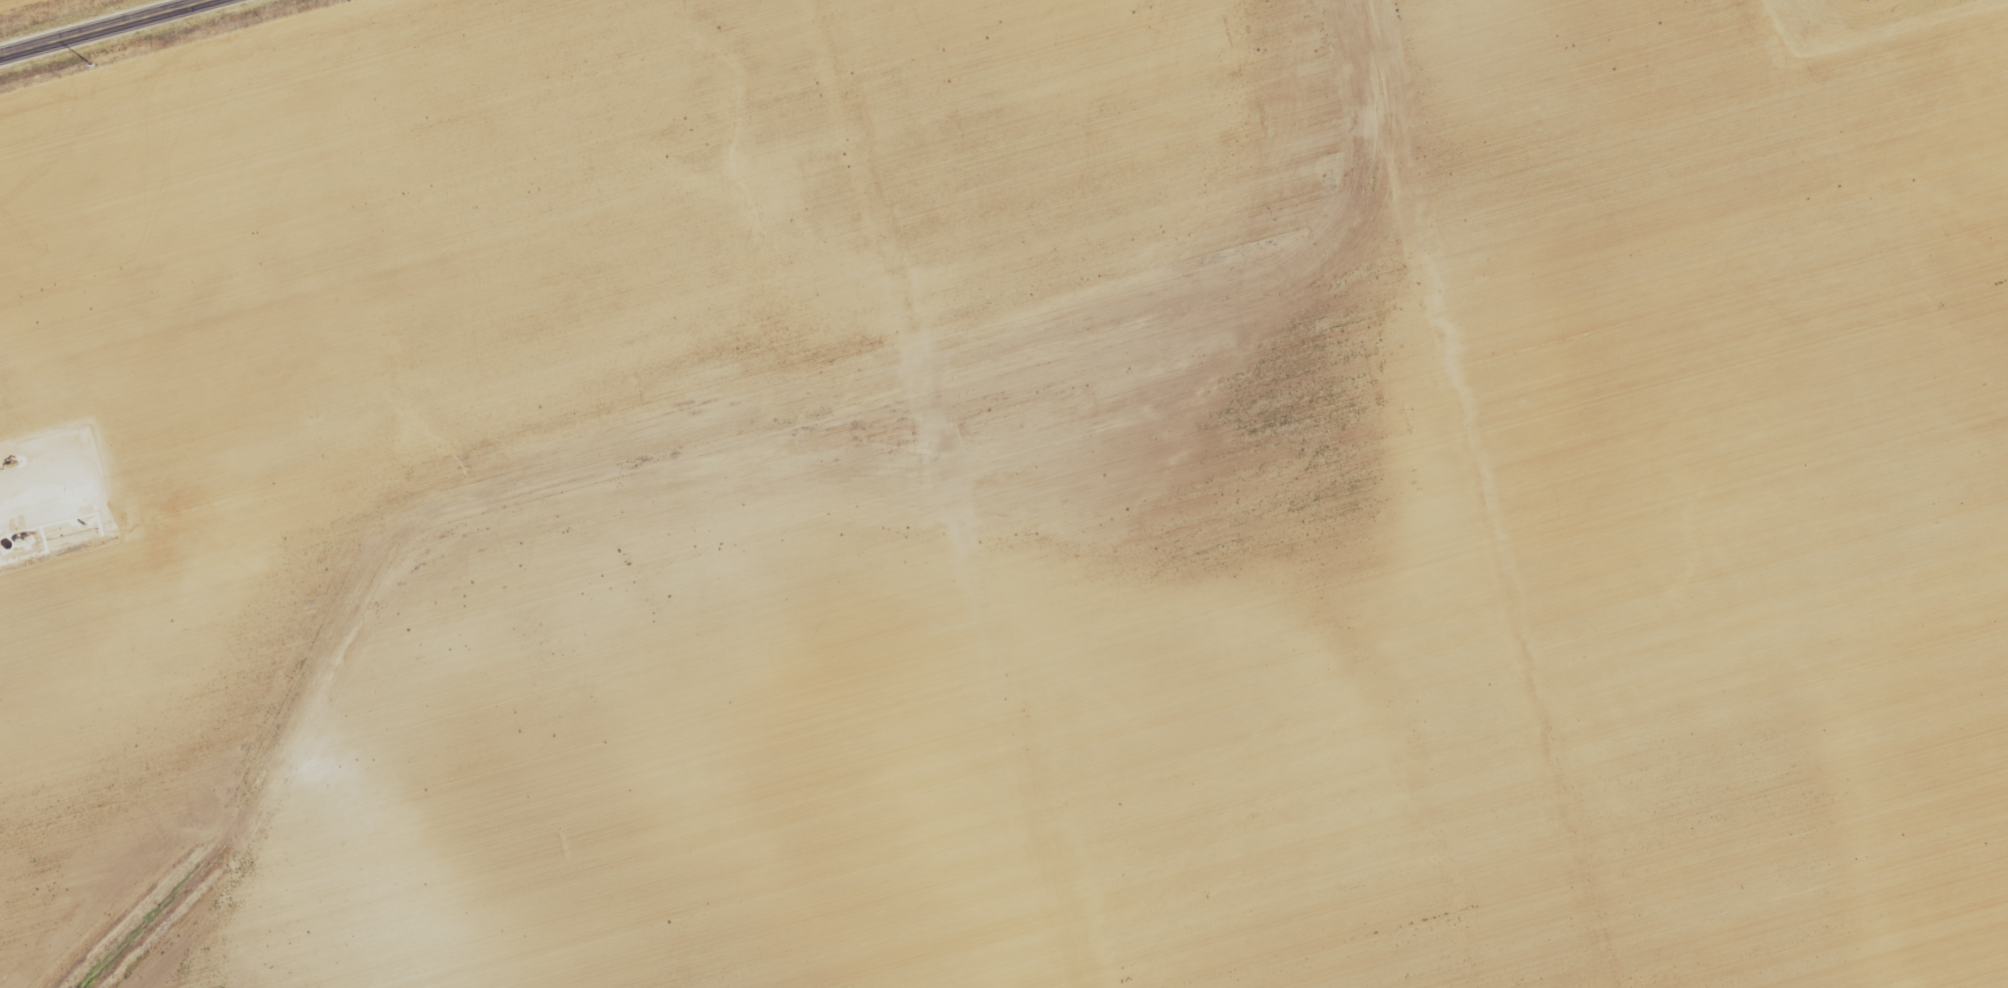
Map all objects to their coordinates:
road: (91, 23)
power tower: (83, 68)

